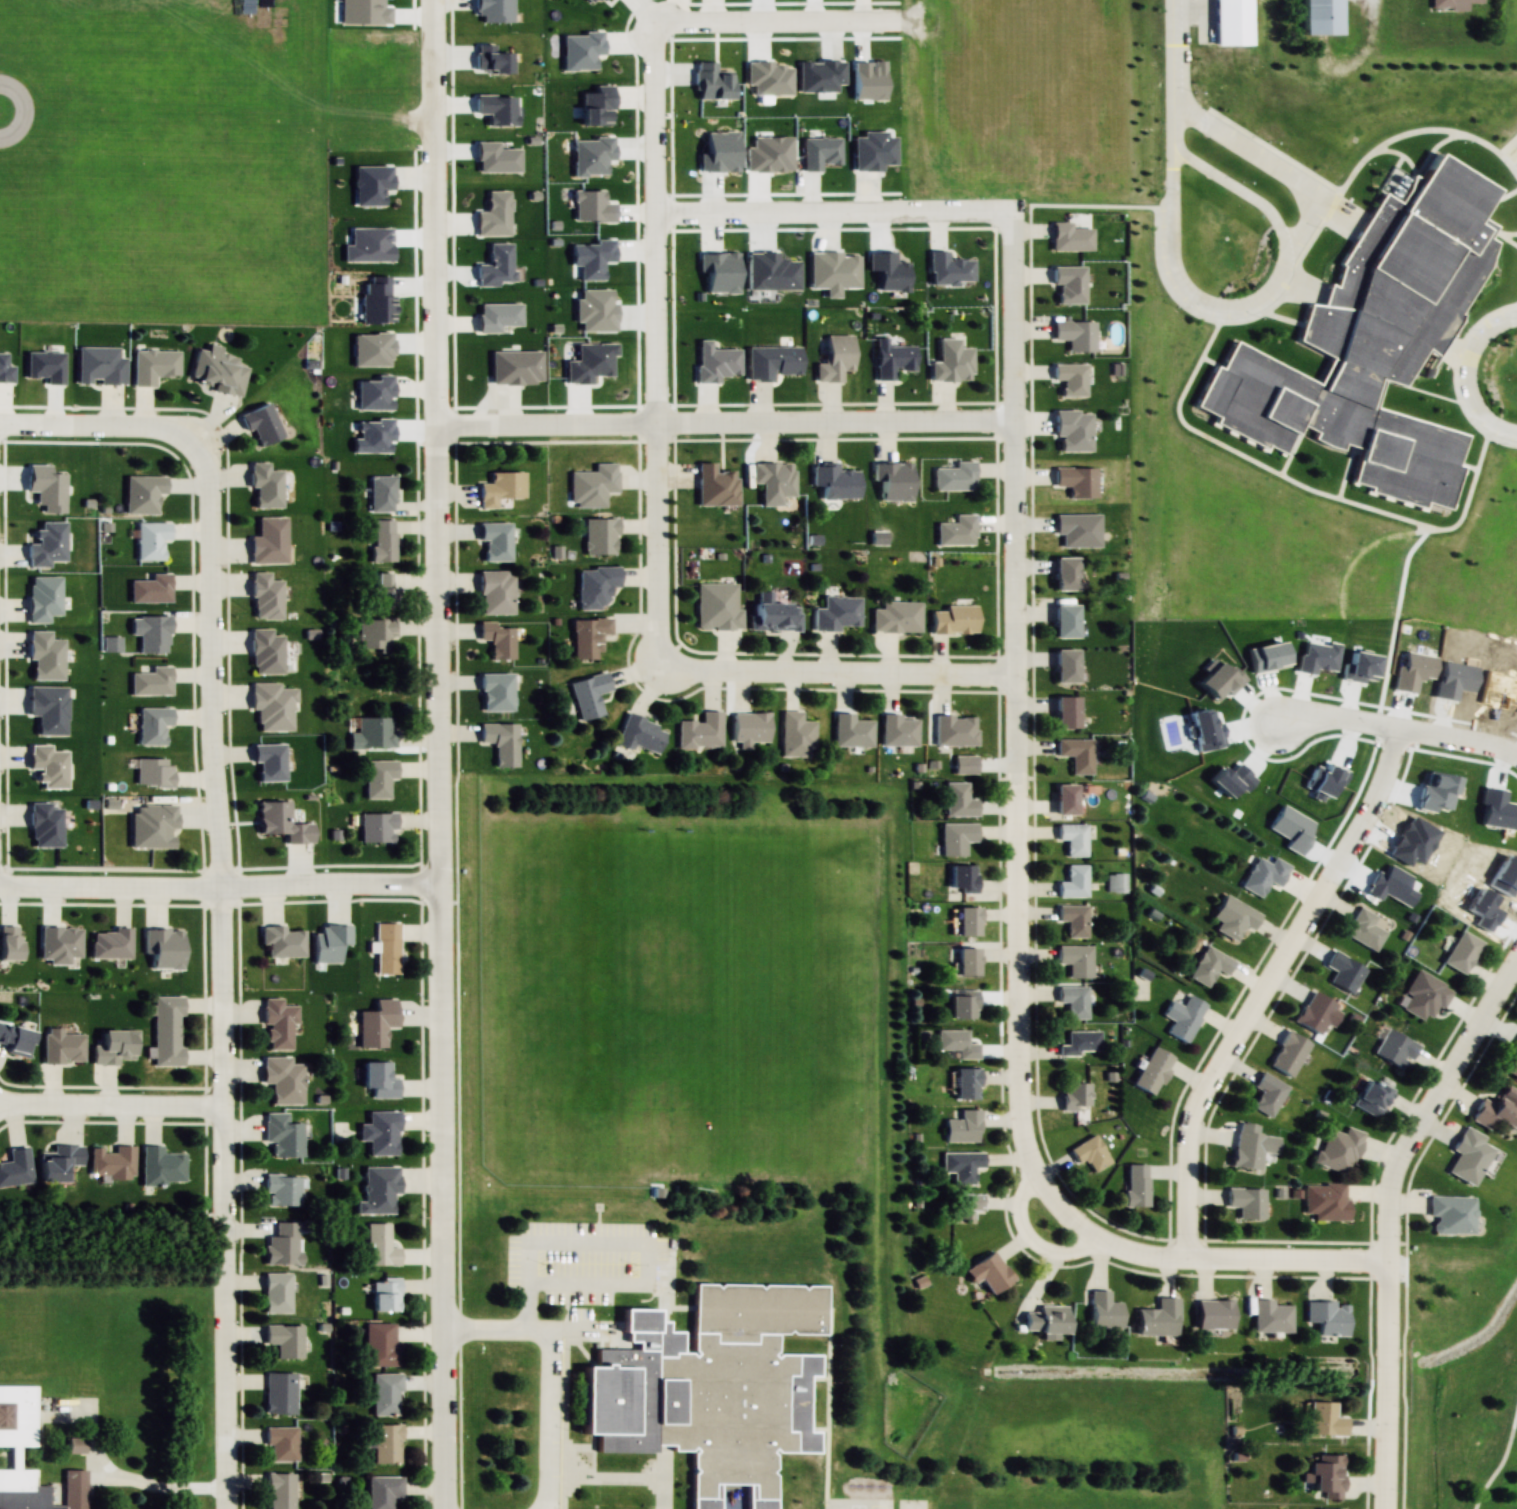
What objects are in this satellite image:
building: (1452, 4)
building: (1321, 17)
road: (789, 25)
road: (1181, 77)
road: (1276, 165)
road: (836, 216)
building: (1070, 238)
building: (1069, 284)
road: (1261, 303)
building: (1075, 335)
road: (664, 349)
building: (835, 359)
building: (892, 359)
building: (771, 362)
building: (951, 362)
building: (153, 366)
building: (217, 370)
building: (1070, 378)
road: (1473, 379)
road: (724, 424)
building: (260, 425)
road: (106, 429)
building: (1072, 430)
building: (955, 477)
building: (773, 481)
building: (834, 481)
building: (892, 481)
building: (1076, 482)
building: (264, 485)
building: (592, 486)
building: (715, 486)
building: (501, 488)
building: (381, 494)
building: (144, 495)
building: (1078, 530)
building: (956, 532)
building: (599, 536)
building: (150, 540)
building: (383, 541)
building: (494, 541)
building: (268, 542)
building: (1065, 574)
building: (595, 586)
building: (150, 589)
building: (381, 589)
building: (494, 592)
building: (265, 597)
building: (716, 606)
building: (837, 613)
building: (774, 617)
building: (896, 617)
building: (953, 620)
building: (1065, 620)
building: (375, 633)
building: (152, 634)
building: (587, 637)
building: (497, 640)
building: (111, 644)
building: (265, 652)
building: (1065, 666)
road: (841, 675)
building: (150, 681)
building: (495, 693)
building: (589, 695)
building: (272, 706)
building: (1066, 713)
road: (1336, 717)
road: (1014, 724)
building: (152, 725)
building: (749, 729)
building: (898, 730)
building: (954, 730)
building: (850, 731)
building: (700, 732)
building: (374, 733)
building: (640, 734)
building: (796, 736)
road: (1457, 739)
building: (500, 743)
road: (439, 754)
building: (1076, 754)
building: (268, 761)
building: (153, 773)
building: (378, 778)
building: (1065, 800)
building: (958, 801)
building: (281, 823)
building: (44, 826)
building: (152, 826)
building: (377, 828)
building: (956, 838)
building: (1073, 839)
building: (1263, 875)
building: (963, 878)
road: (220, 881)
building: (1073, 882)
building: (1115, 882)
building: (1073, 919)
building: (1236, 919)
building: (966, 920)
building: (1364, 929)
building: (281, 942)
building: (110, 945)
building: (163, 948)
building: (386, 950)
building: (1460, 951)
building: (1075, 959)
building: (966, 960)
building: (1208, 965)
building: (1343, 971)
road: (221, 980)
road: (1265, 988)
building: (1423, 996)
building: (1073, 1000)
building: (962, 1003)
building: (1314, 1012)
building: (1182, 1016)
building: (376, 1022)
building: (277, 1023)
building: (166, 1029)
building: (14, 1039)
building: (957, 1042)
building: (1080, 1042)
building: (60, 1046)
building: (115, 1047)
building: (1395, 1048)
building: (1288, 1053)
building: (1513, 1060)
building: (1152, 1070)
building: (282, 1079)
building: (378, 1079)
building: (965, 1082)
building: (1267, 1093)
building: (1074, 1096)
building: (1371, 1097)
road: (111, 1105)
building: (1497, 1108)
building: (962, 1126)
building: (379, 1132)
building: (282, 1134)
building: (1247, 1149)
building: (1338, 1149)
building: (1089, 1152)
building: (1468, 1155)
building: (111, 1161)
building: (58, 1162)
building: (961, 1165)
building: (160, 1166)
building: (15, 1167)
building: (1135, 1185)
building: (281, 1189)
building: (377, 1189)
building: (1325, 1200)
building: (1245, 1201)
building: (967, 1204)
building: (1450, 1213)
road: (1387, 1218)
road: (1030, 1238)
building: (282, 1244)
building: (380, 1245)
road: (1222, 1260)
building: (988, 1272)
building: (275, 1292)
building: (384, 1293)
building: (1102, 1310)
building: (1212, 1314)
building: (1270, 1315)
building: (1327, 1316)
building: (1157, 1317)
building: (1046, 1320)
building: (283, 1339)
building: (380, 1345)
road: (549, 1365)
park: (1460, 1376)
building: (707, 1386)
building: (279, 1393)
building: (384, 1394)
building: (1324, 1419)
building: (281, 1443)
building: (386, 1443)
building: (75, 1445)
building: (9, 1457)
road: (1501, 1462)
building: (1326, 1475)
road: (156, 1490)
building: (279, 1491)
building: (382, 1491)

